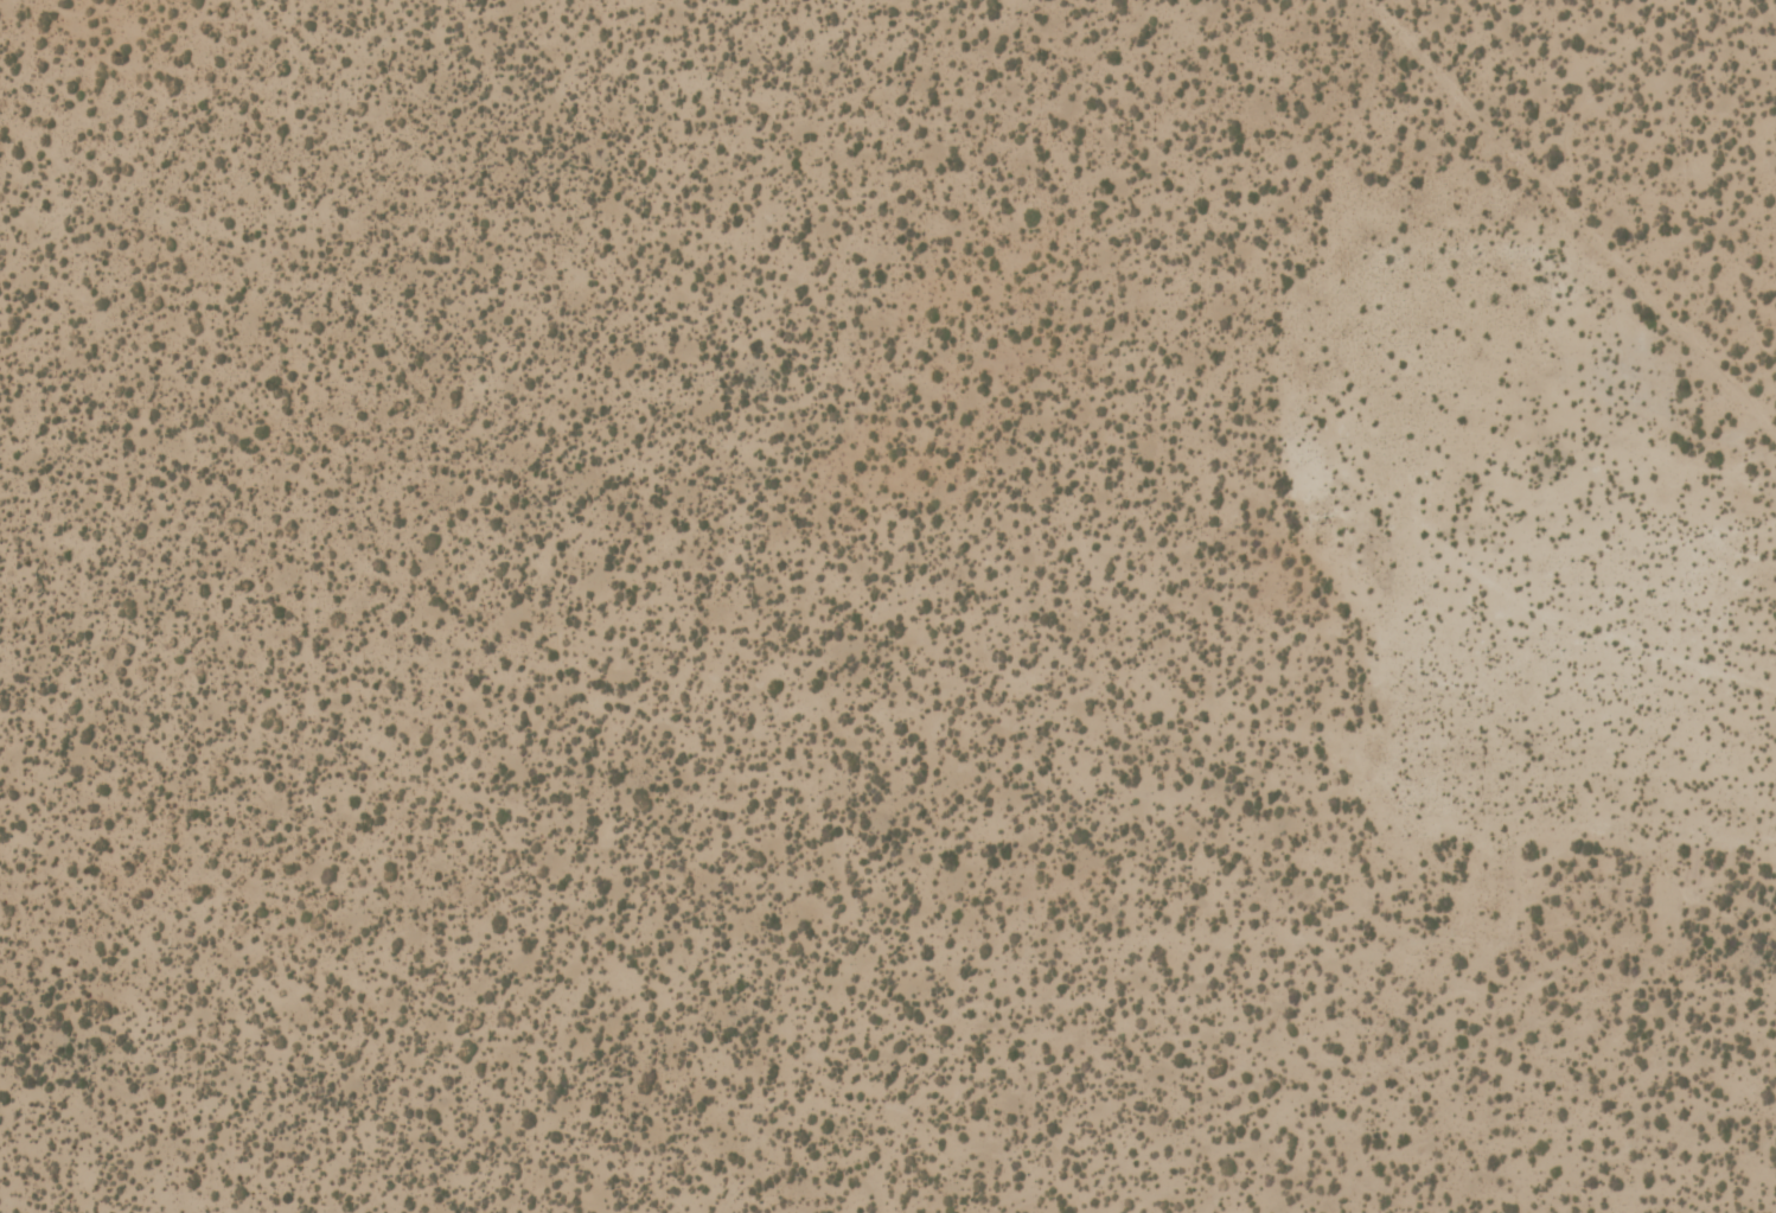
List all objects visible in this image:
road: (1574, 215)

